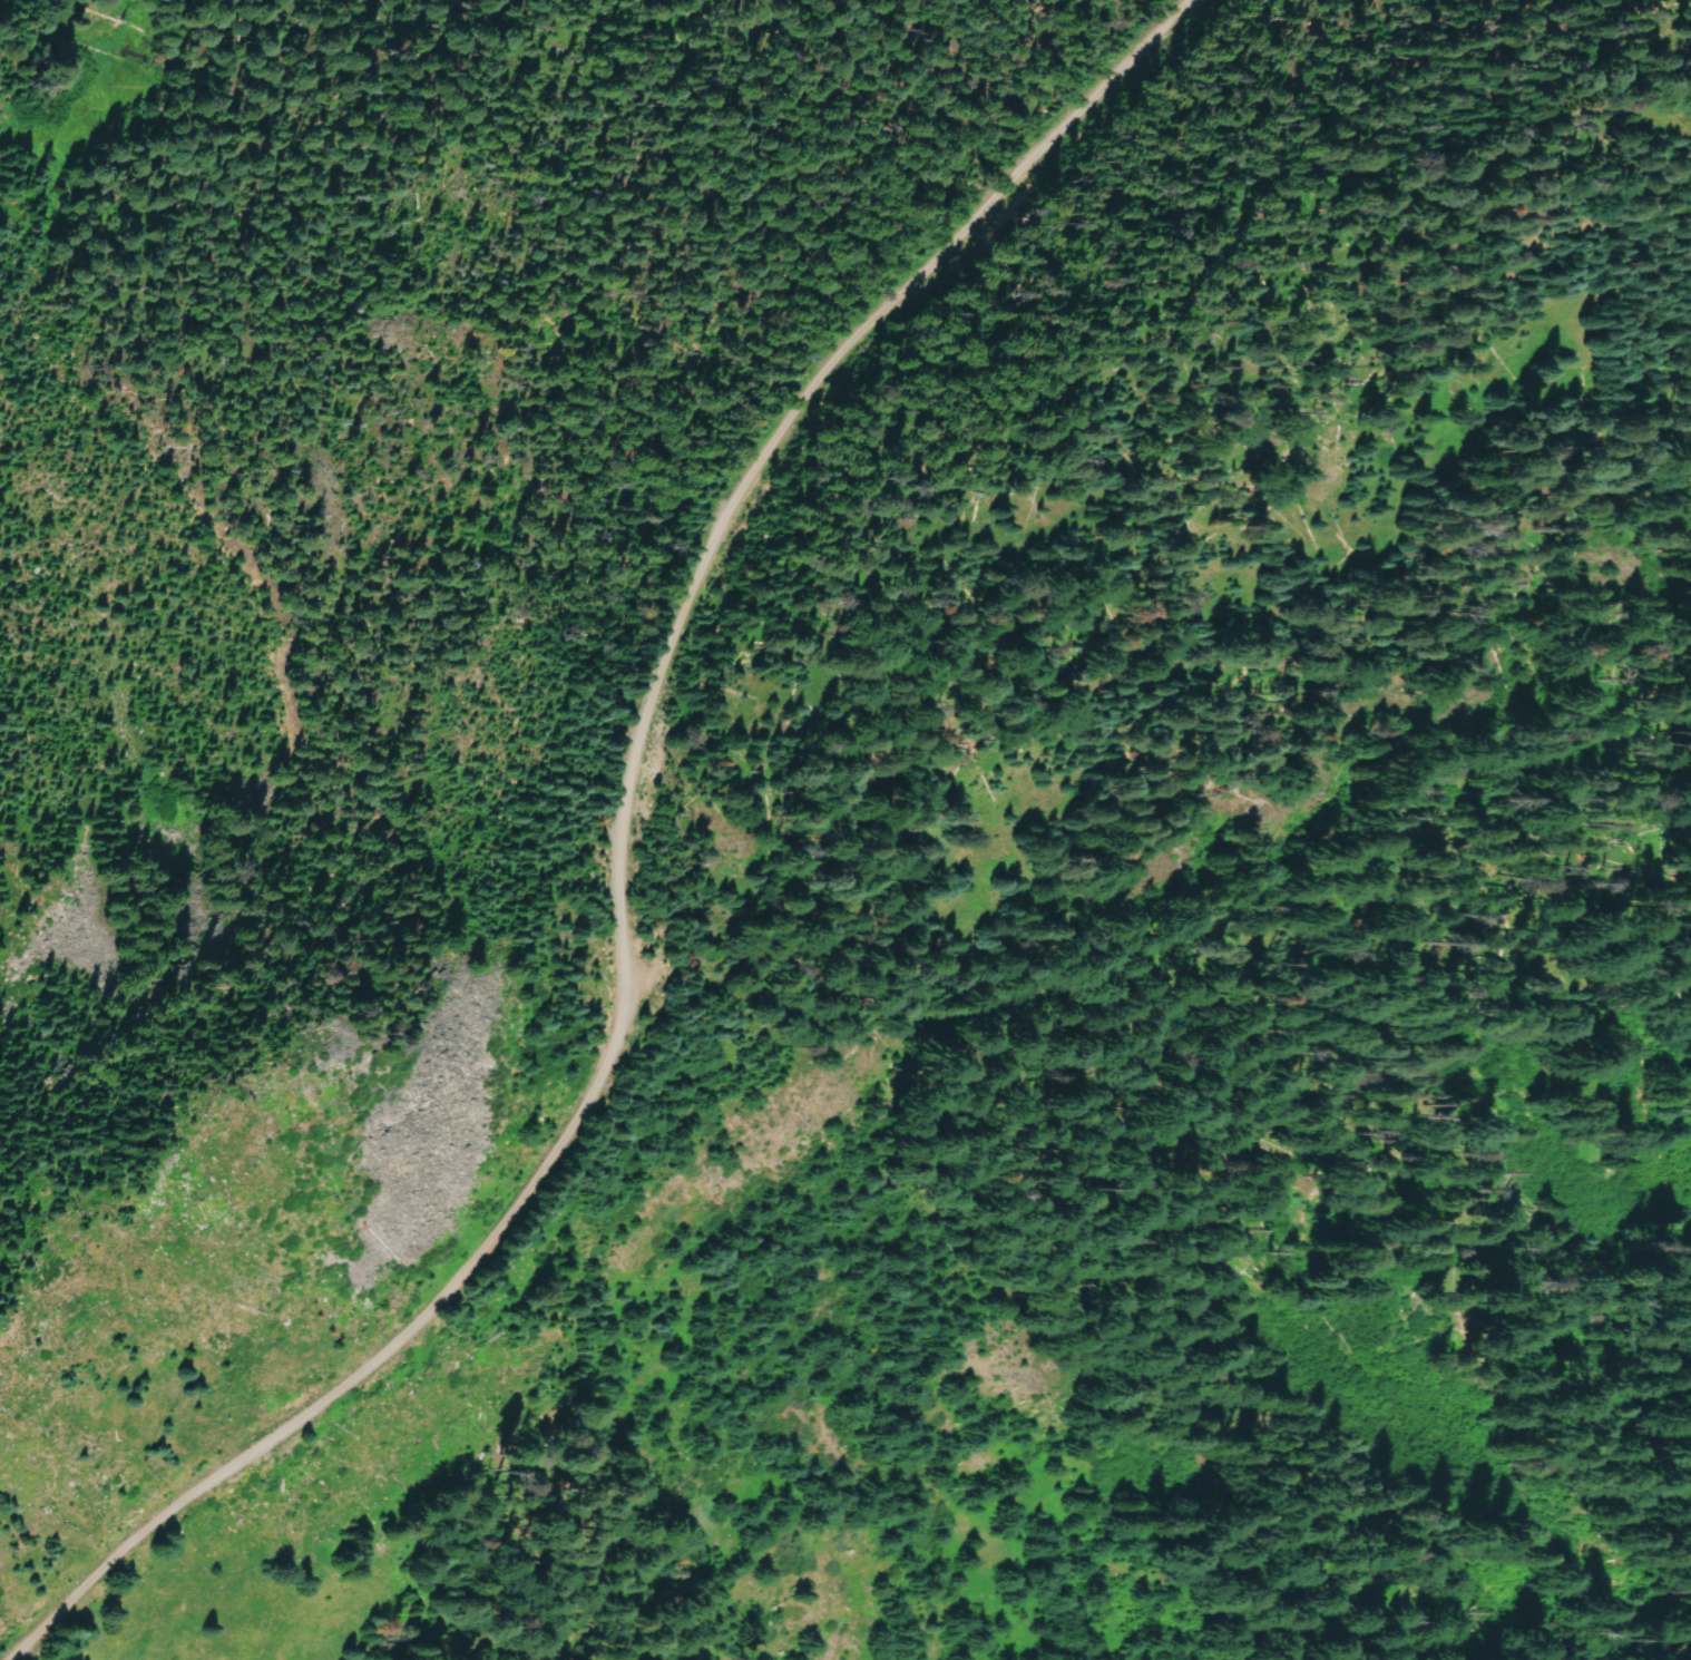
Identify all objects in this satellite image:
road: (620, 858)

